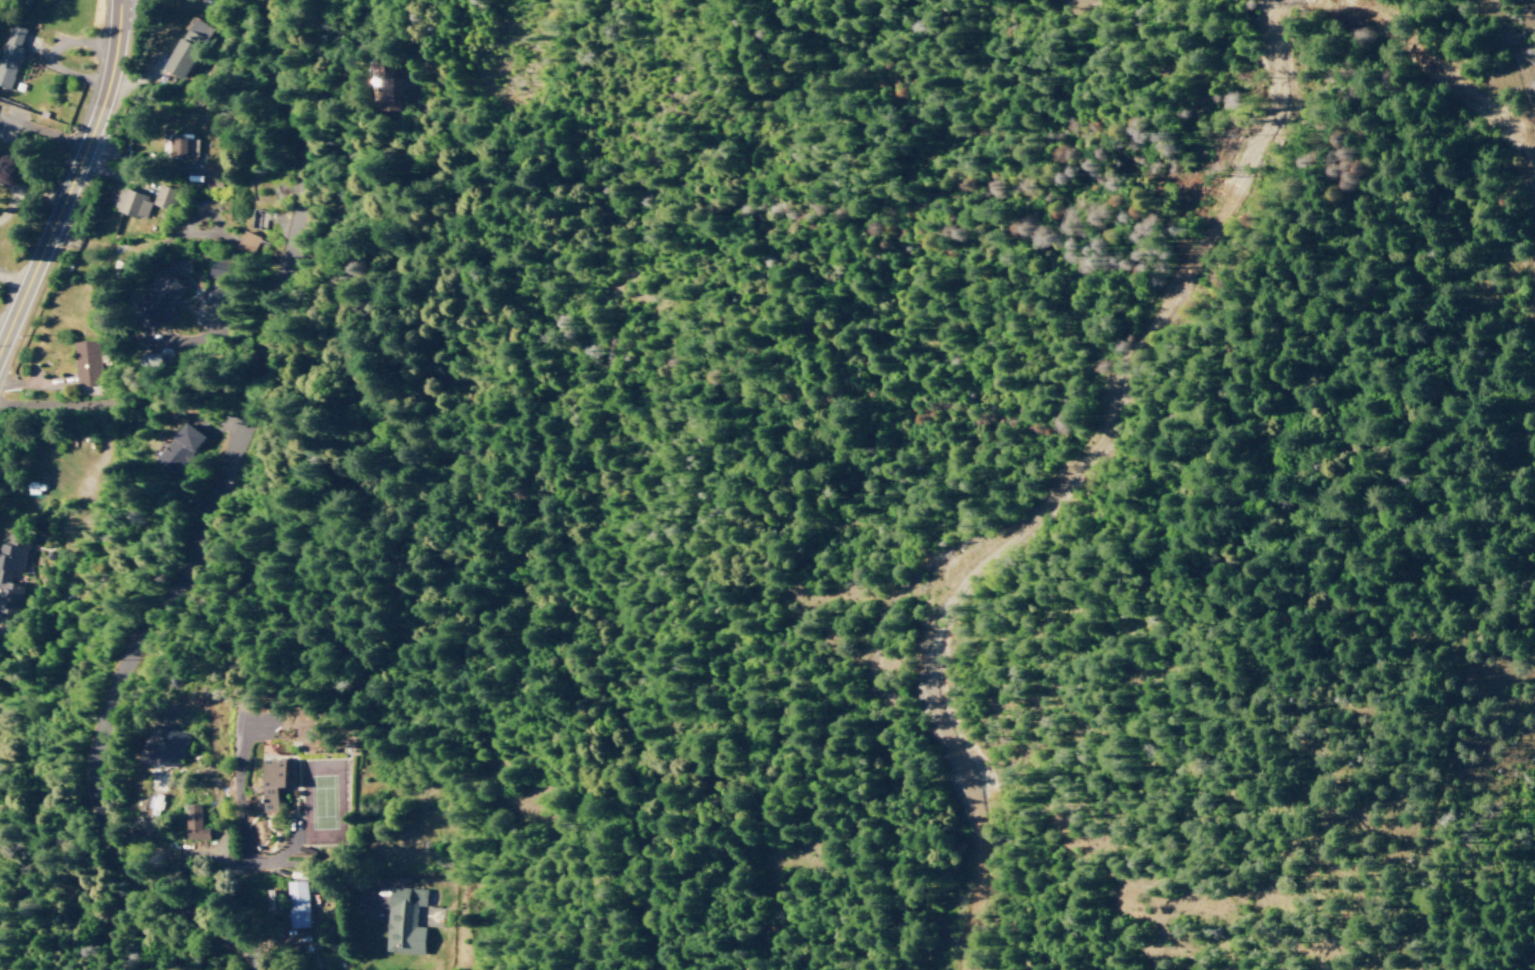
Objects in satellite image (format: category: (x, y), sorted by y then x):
building: (194, 30)
building: (10, 54)
road: (1516, 54)
building: (178, 58)
road: (1373, 110)
building: (183, 147)
building: (211, 173)
road: (73, 183)
road: (34, 184)
building: (163, 197)
building: (131, 203)
building: (244, 241)
building: (215, 269)
building: (159, 294)
building: (148, 359)
building: (85, 363)
building: (174, 451)
road: (197, 515)
road: (1459, 675)
building: (165, 746)
building: (270, 782)
building: (194, 823)
road: (292, 850)
building: (297, 904)
building: (403, 920)

